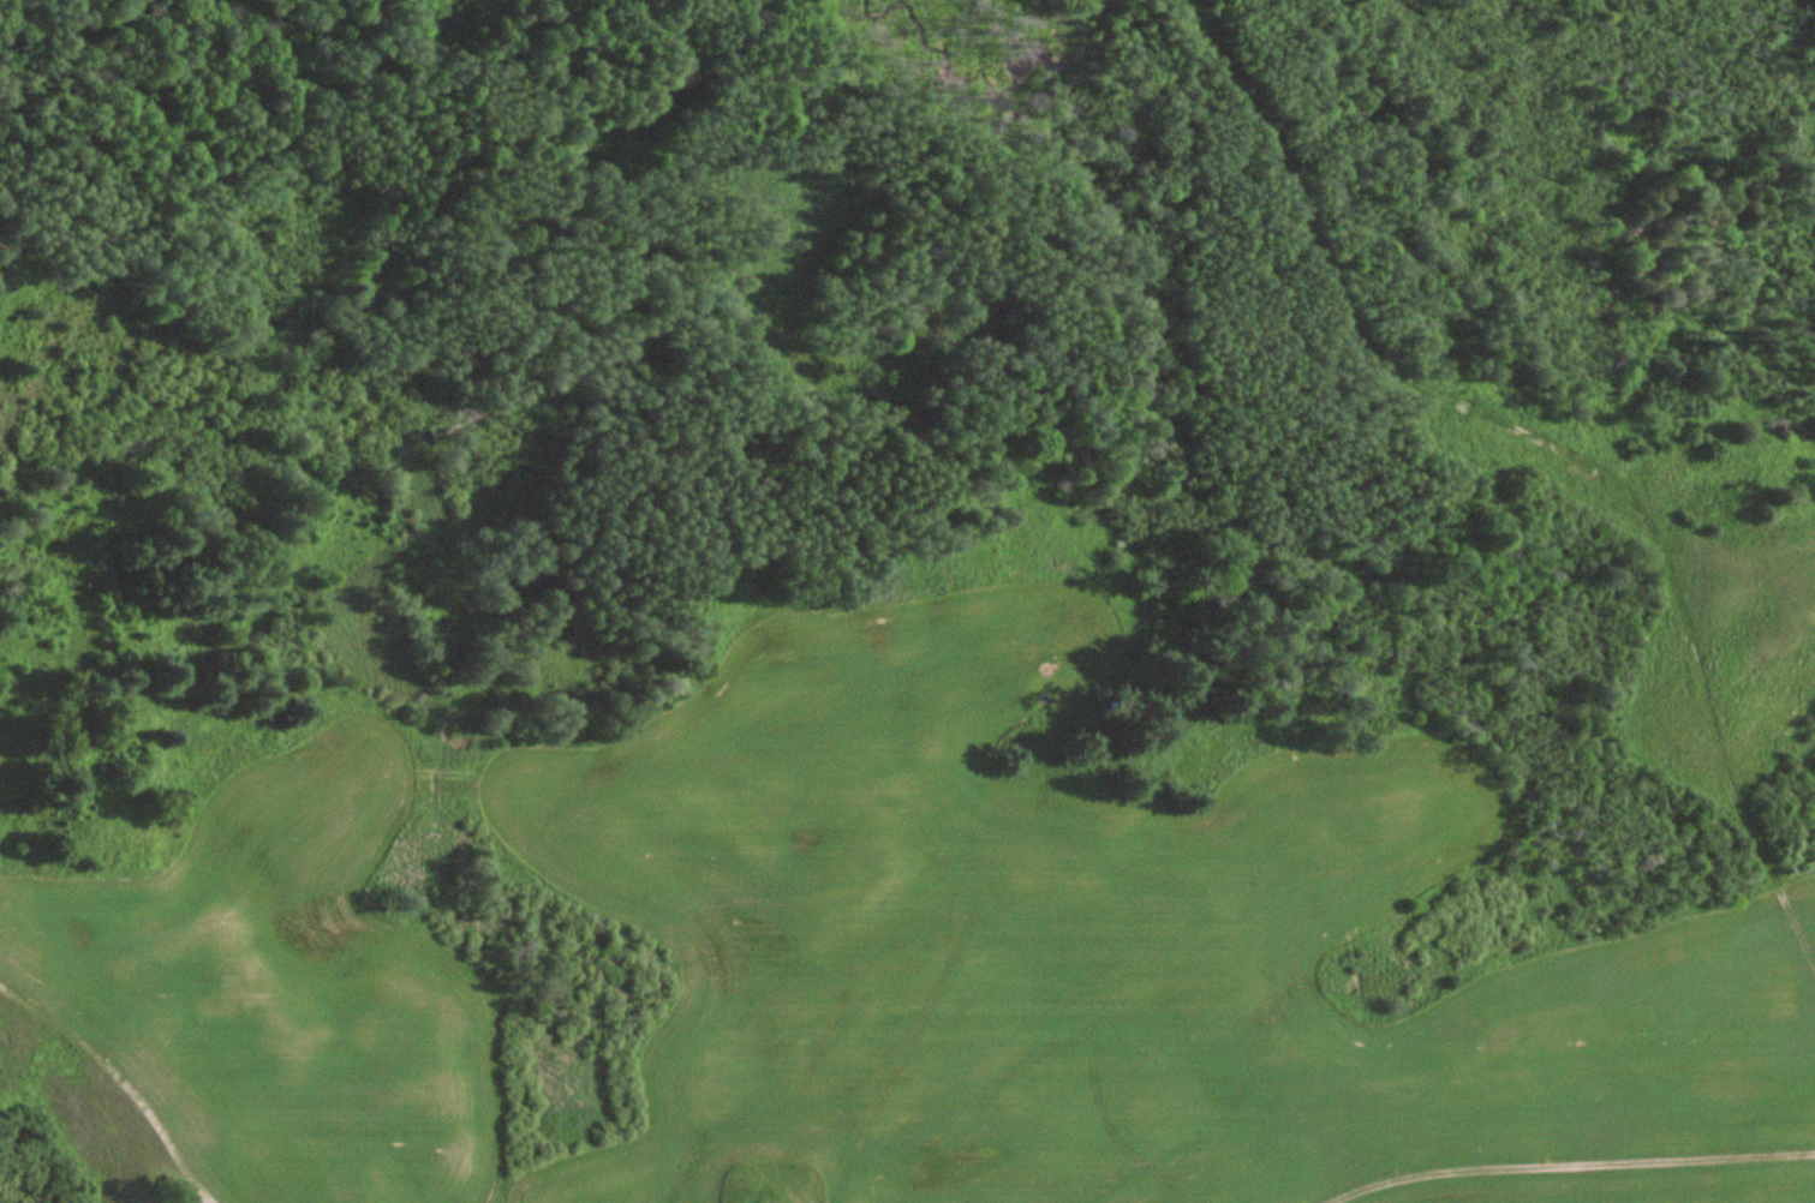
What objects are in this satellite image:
road: (123, 1076)
road: (1558, 1154)

